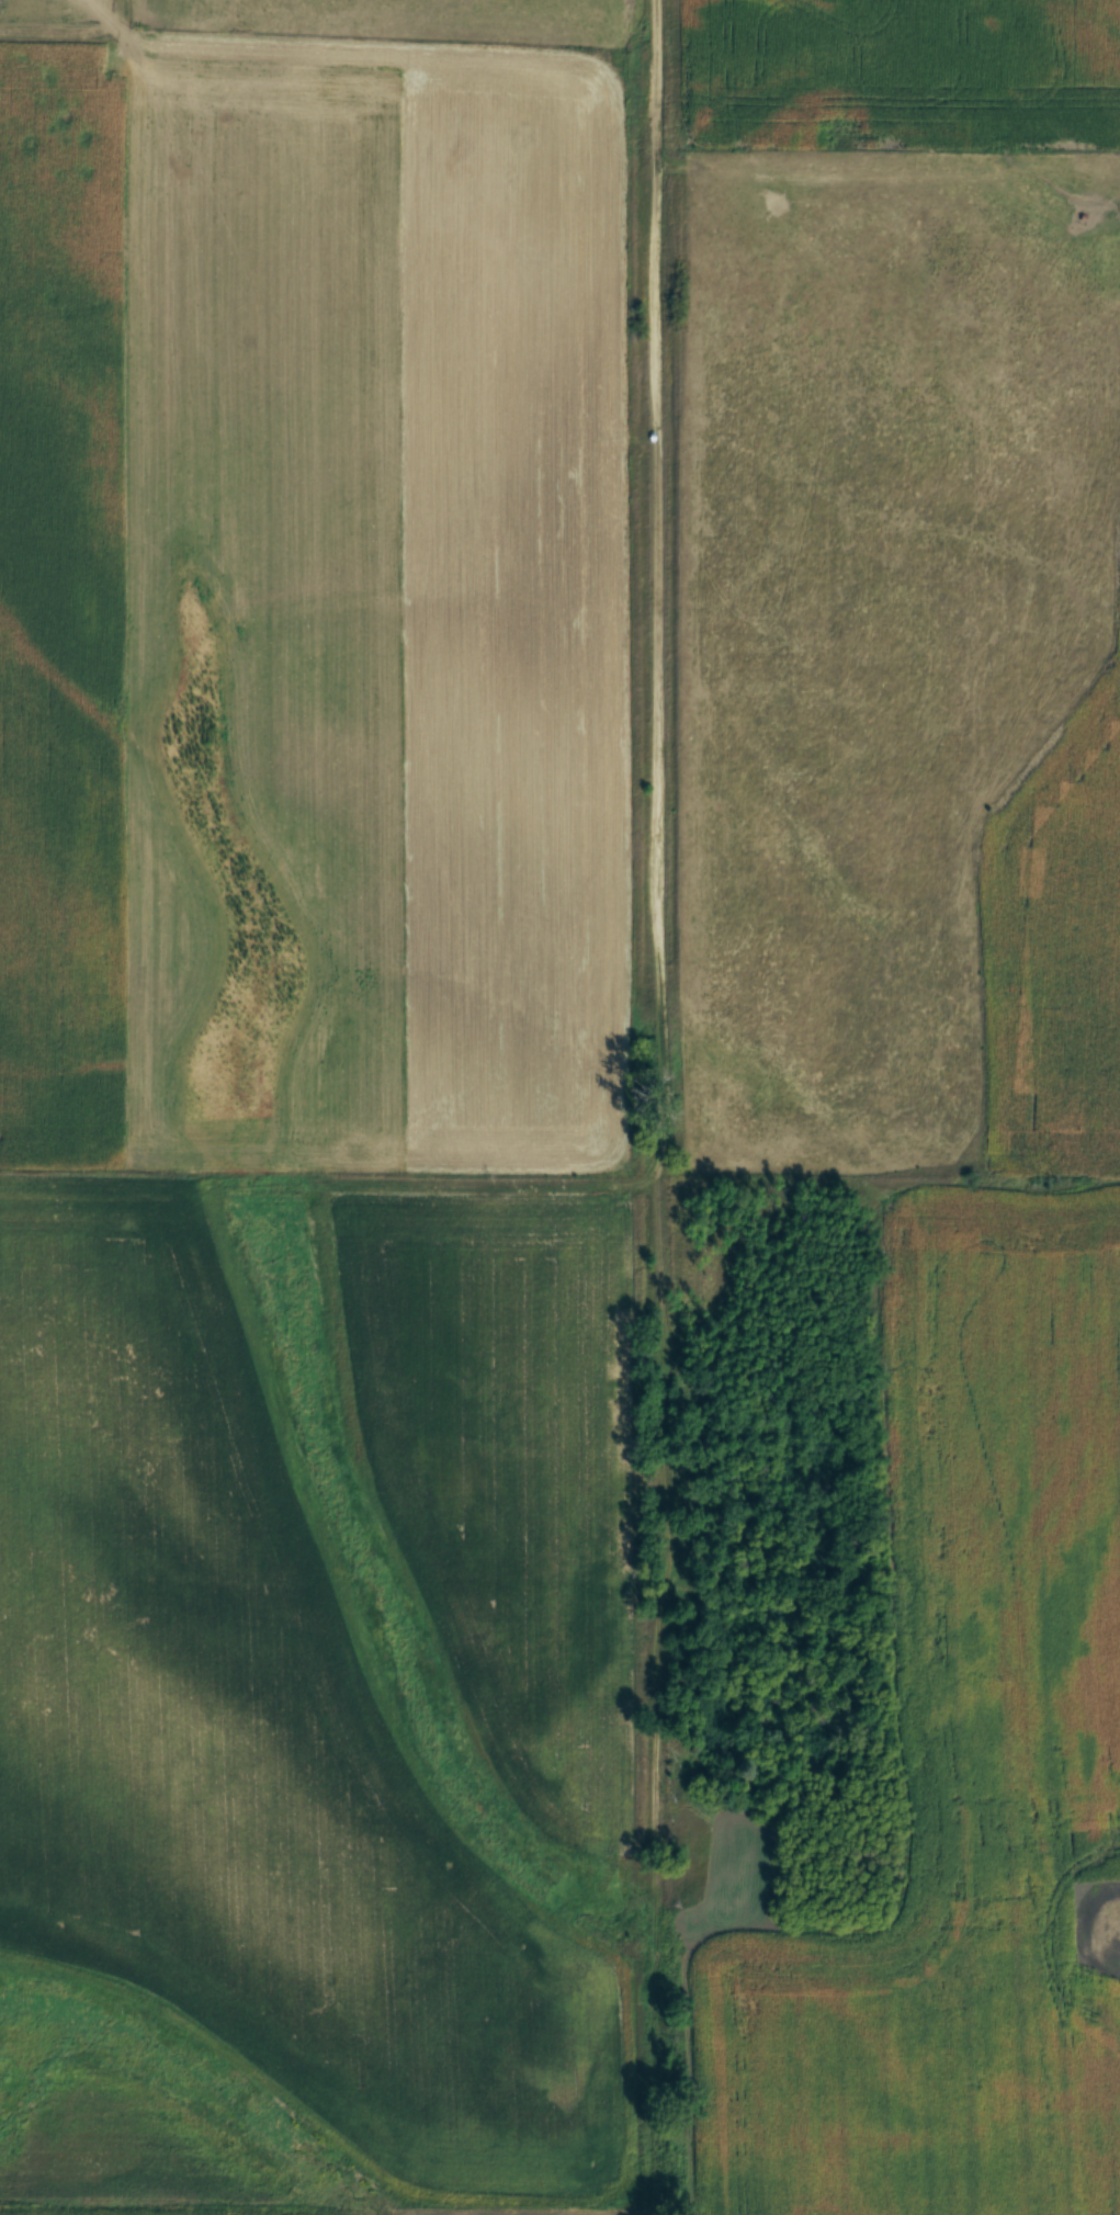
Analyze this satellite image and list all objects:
road: (655, 1107)

